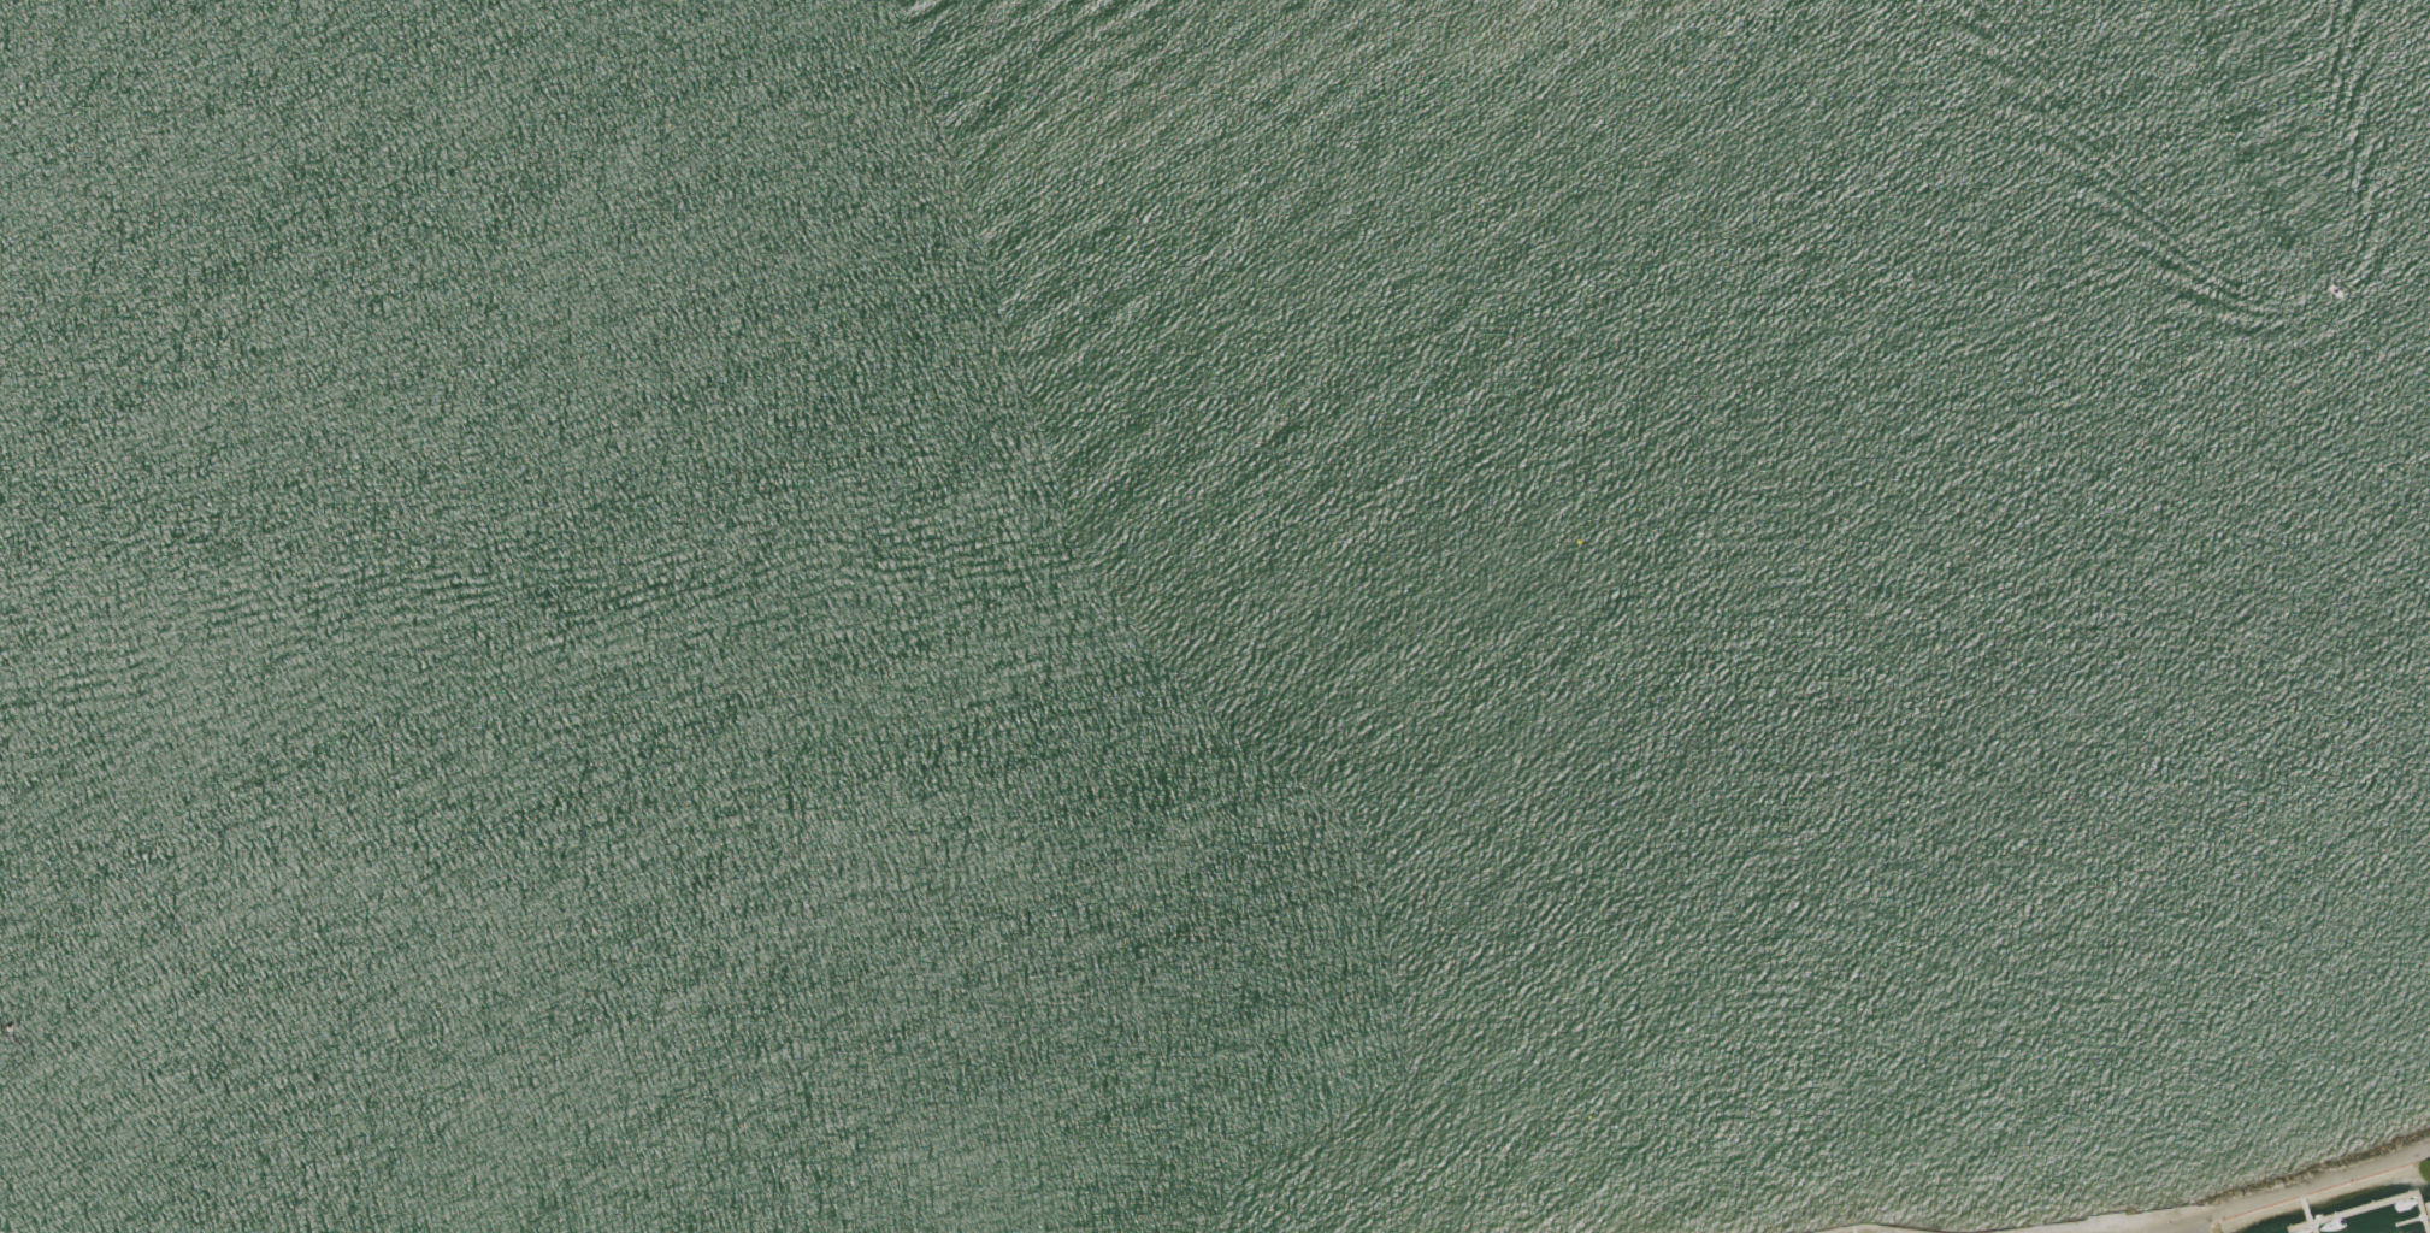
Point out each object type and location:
road: (2308, 1187)
pier: (2371, 1205)
pier: (2307, 1211)
pier: (2408, 1221)
parking lot: (2131, 1231)

